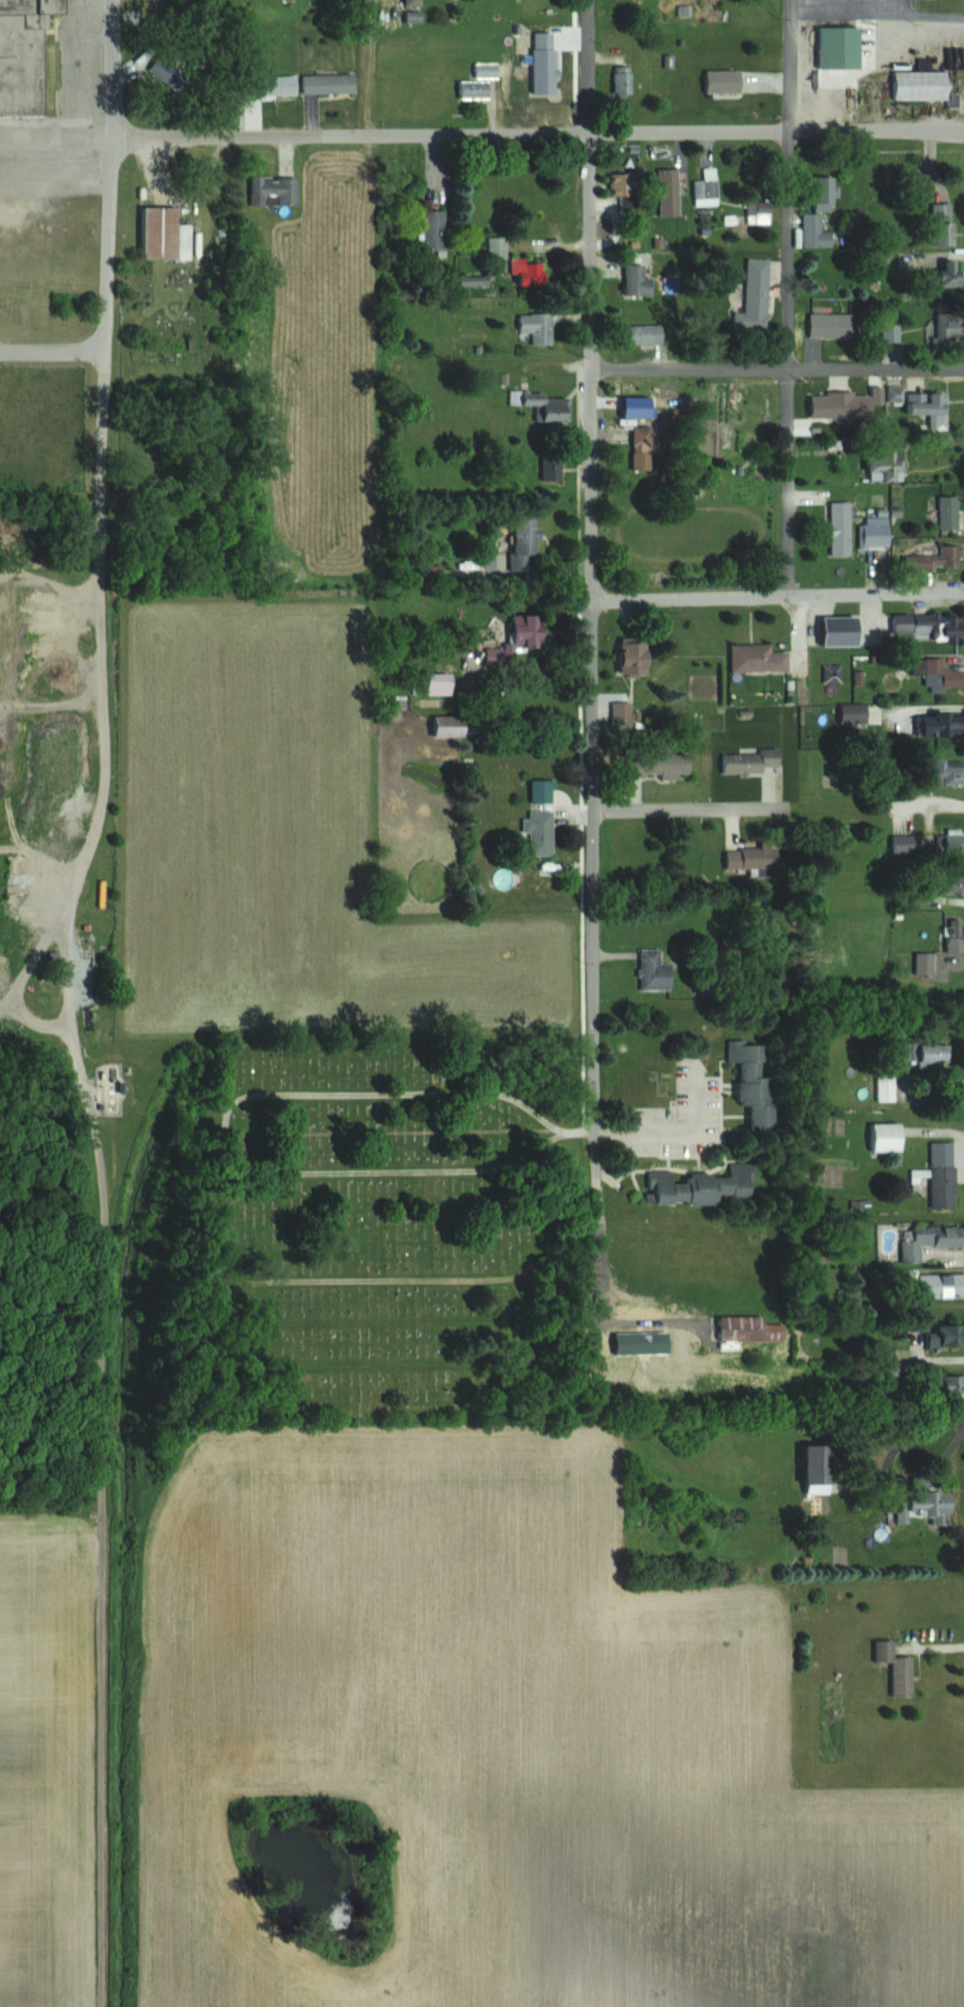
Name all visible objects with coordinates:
building: (413, 3)
road: (877, 5)
road: (878, 11)
building: (841, 48)
building: (25, 56)
building: (488, 70)
building: (624, 80)
building: (330, 83)
building: (282, 84)
building: (925, 85)
building: (475, 89)
road: (480, 135)
building: (707, 188)
building: (275, 191)
building: (828, 193)
building: (759, 212)
building: (940, 225)
building: (435, 229)
building: (168, 235)
building: (498, 247)
building: (529, 272)
building: (952, 273)
building: (639, 281)
building: (756, 298)
road: (788, 298)
building: (836, 325)
building: (538, 328)
building: (947, 330)
road: (778, 369)
building: (896, 394)
building: (843, 406)
building: (931, 408)
building: (642, 449)
building: (950, 512)
building: (842, 528)
road: (107, 535)
building: (876, 535)
building: (526, 539)
building: (936, 557)
road: (591, 570)
road: (777, 597)
building: (930, 624)
building: (518, 642)
building: (639, 657)
building: (757, 657)
building: (938, 673)
building: (443, 682)
building: (622, 711)
building: (859, 712)
building: (939, 725)
building: (451, 726)
building: (664, 763)
building: (757, 769)
road: (684, 805)
building: (541, 832)
building: (905, 845)
building: (753, 859)
building: (952, 882)
building: (955, 935)
building: (656, 971)
building: (938, 1053)
building: (753, 1085)
building: (888, 1086)
road: (668, 1127)
building: (891, 1136)
park: (358, 1137)
building: (944, 1175)
building: (698, 1185)
building: (929, 1240)
building: (945, 1285)
park: (358, 1330)
building: (946, 1335)
road: (909, 1431)
building: (820, 1477)
building: (937, 1501)
road: (933, 1645)
building: (900, 1668)

